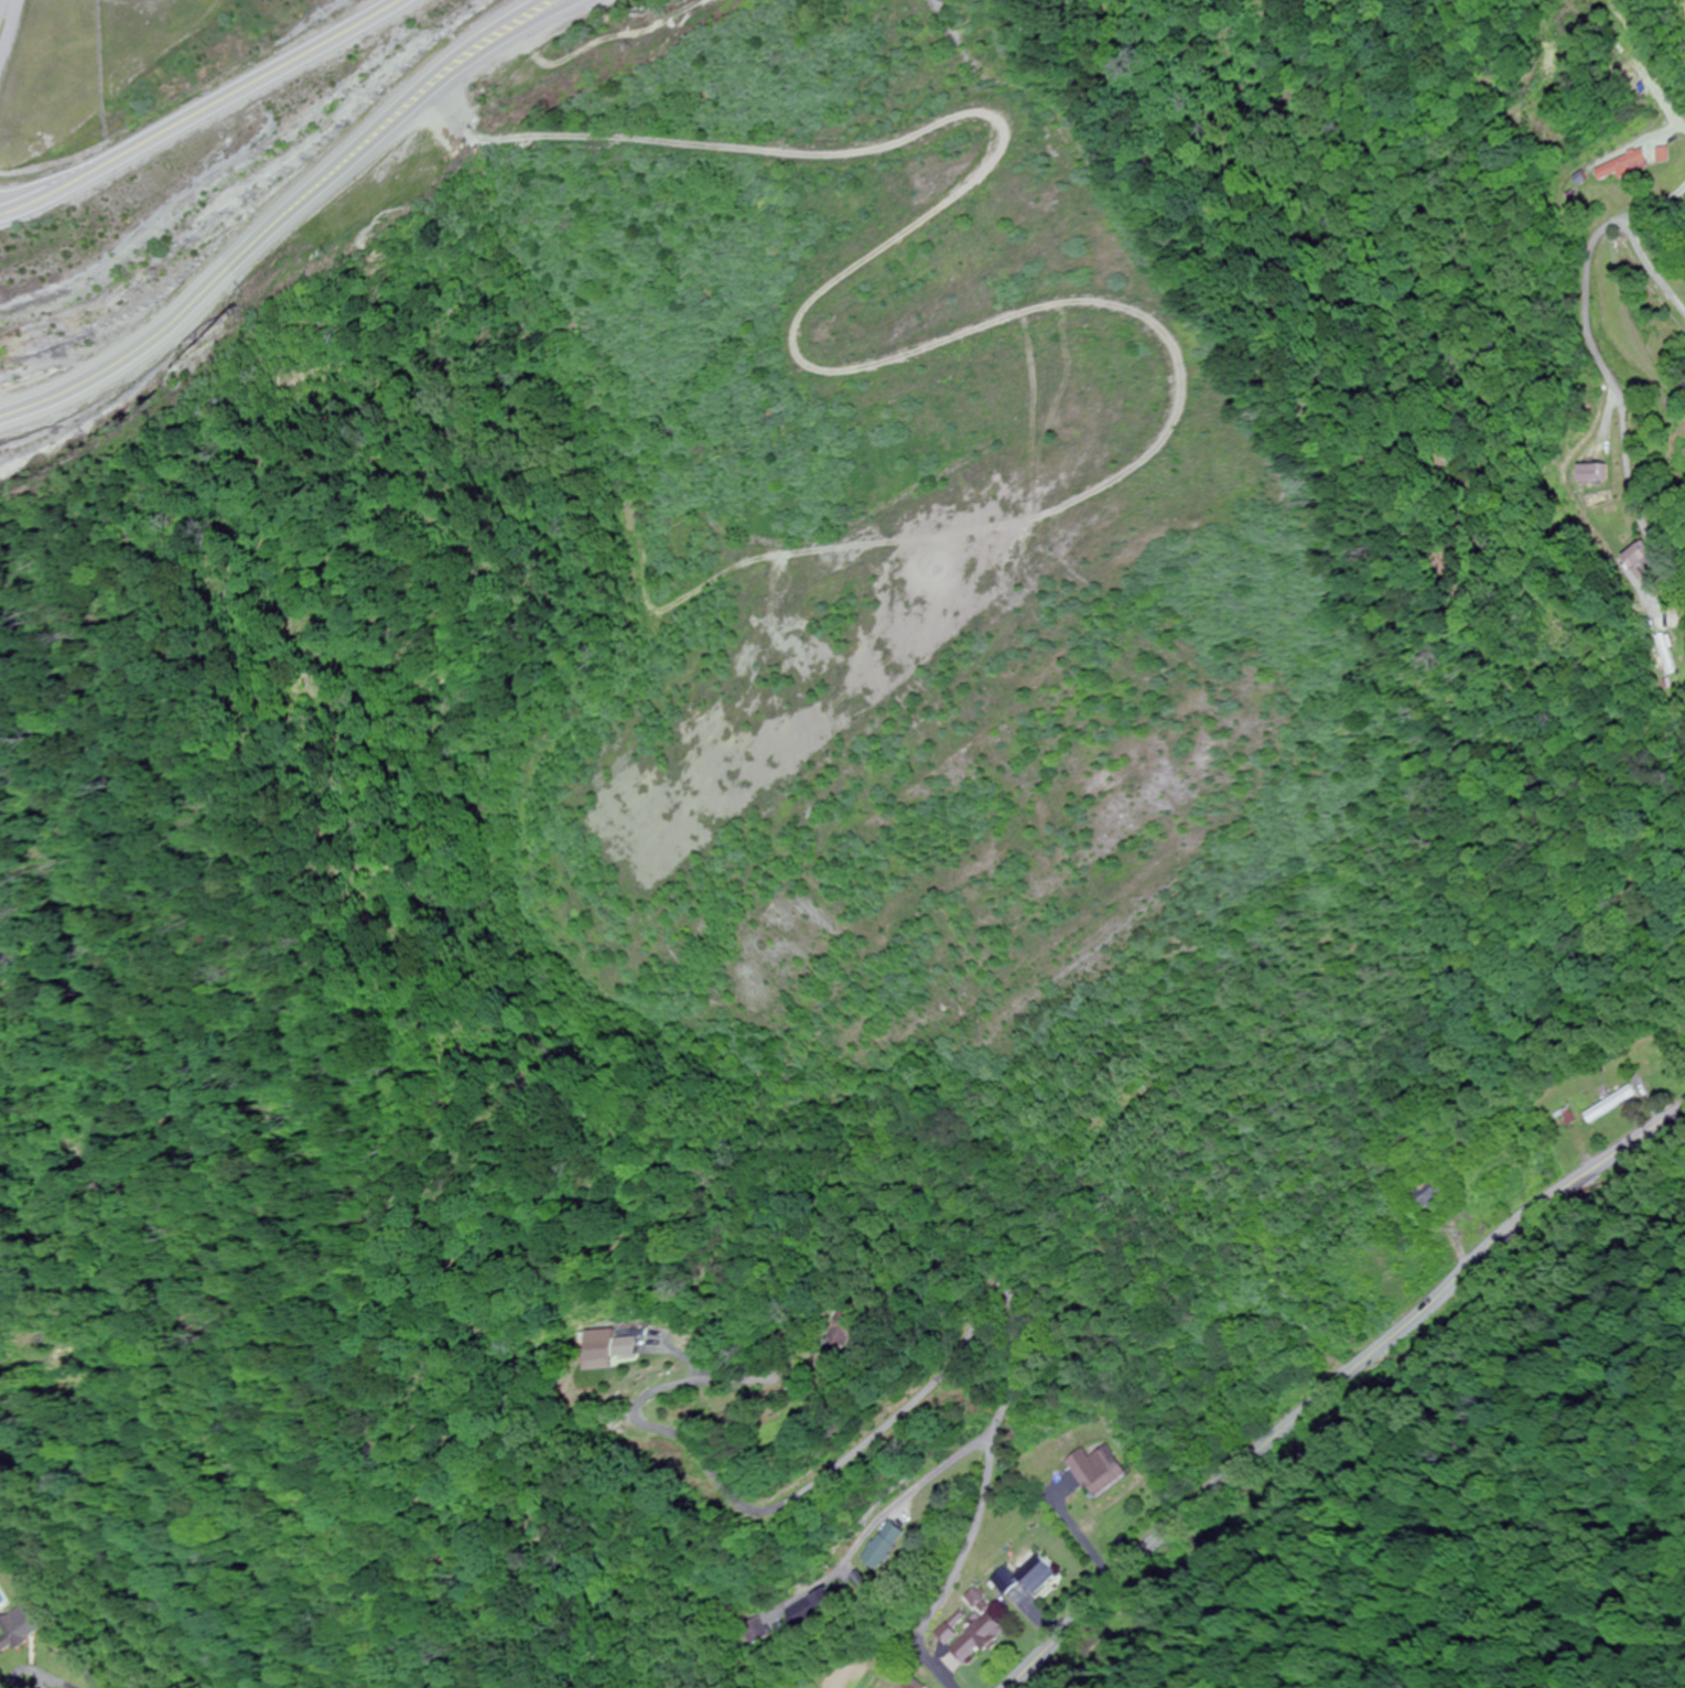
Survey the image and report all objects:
road: (0, 0)
road: (1655, 84)
road: (196, 114)
building: (1622, 166)
road: (1652, 203)
road: (273, 206)
road: (1645, 272)
road: (1618, 390)
building: (1591, 474)
building: (1667, 653)
building: (1654, 1060)
building: (1608, 1105)
building: (1426, 1192)
building: (841, 1335)
building: (601, 1351)
road: (1335, 1383)
road: (920, 1398)
building: (1095, 1472)
building: (882, 1547)
building: (1023, 1578)
building: (811, 1611)
building: (20, 1630)
building: (755, 1632)
building: (977, 1638)
building: (910, 1685)

